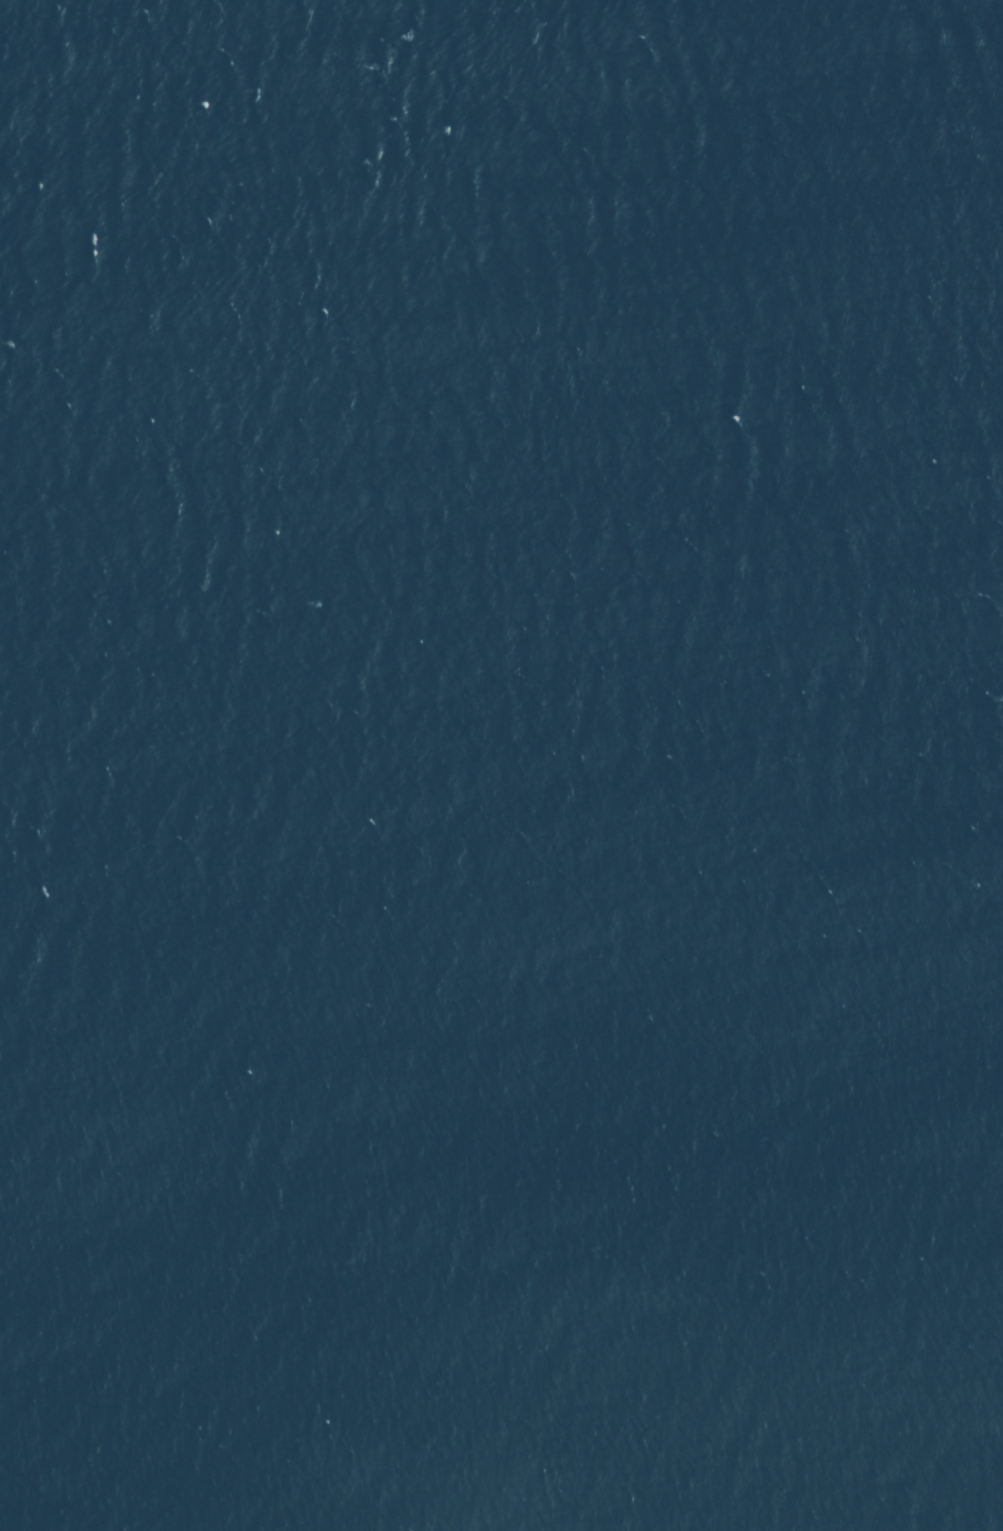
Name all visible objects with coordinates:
river: (523, 83)
river: (440, 374)
river: (513, 642)

